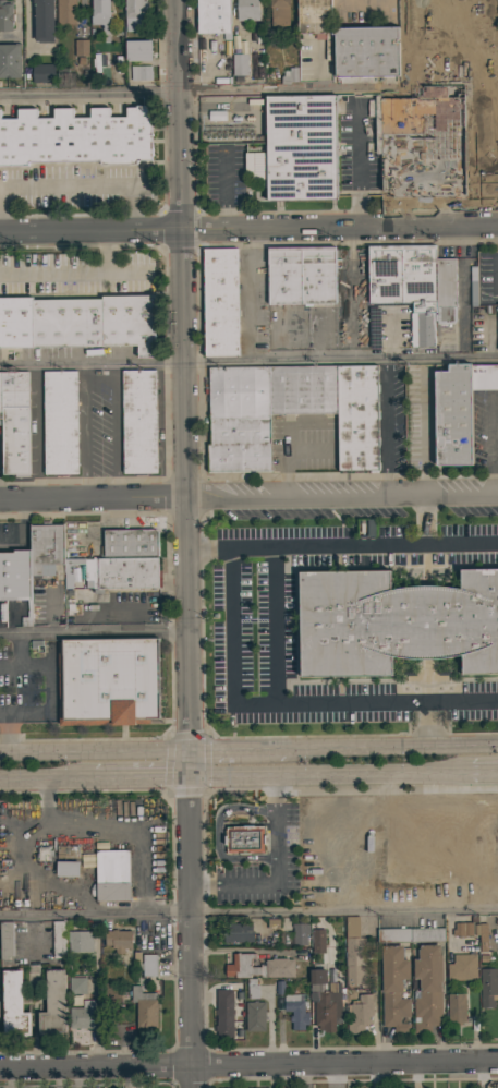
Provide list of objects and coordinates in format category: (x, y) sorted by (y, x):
building: (246, 10)
building: (65, 12)
building: (279, 12)
building: (133, 14)
building: (5, 15)
building: (100, 15)
building: (214, 16)
building: (315, 20)
building: (44, 21)
building: (412, 22)
building: (81, 47)
building: (137, 50)
building: (365, 50)
building: (10, 60)
building: (239, 64)
building: (139, 72)
building: (42, 73)
building: (289, 75)
building: (64, 77)
road: (248, 90)
road: (179, 114)
building: (76, 136)
building: (481, 143)
building: (301, 147)
road: (356, 157)
road: (65, 183)
road: (340, 227)
road: (90, 230)
road: (74, 271)
building: (284, 275)
building: (318, 275)
building: (405, 283)
building: (473, 286)
building: (447, 287)
road: (246, 294)
building: (220, 302)
building: (78, 323)
building: (497, 327)
building: (371, 330)
road: (248, 361)
building: (484, 376)
building: (301, 391)
building: (452, 413)
building: (356, 418)
building: (239, 420)
building: (138, 421)
building: (59, 422)
building: (13, 425)
road: (382, 430)
road: (36, 433)
road: (96, 433)
road: (183, 489)
road: (248, 498)
road: (21, 530)
building: (127, 544)
road: (433, 547)
building: (44, 549)
road: (301, 549)
building: (118, 573)
building: (14, 578)
building: (394, 621)
road: (93, 631)
road: (271, 631)
road: (9, 664)
building: (108, 680)
road: (51, 698)
road: (242, 711)
road: (438, 711)
road: (3, 713)
road: (390, 746)
road: (236, 749)
road: (94, 751)
road: (482, 776)
road: (327, 777)
road: (139, 779)
road: (45, 782)
road: (47, 803)
road: (65, 825)
road: (215, 832)
building: (244, 839)
building: (66, 854)
building: (66, 870)
road: (277, 874)
building: (111, 877)
road: (248, 911)
road: (187, 918)
building: (464, 928)
building: (238, 932)
building: (481, 932)
building: (300, 933)
building: (410, 934)
building: (59, 938)
building: (7, 940)
building: (82, 940)
building: (119, 940)
building: (317, 941)
road: (239, 950)
building: (354, 952)
building: (146, 963)
building: (260, 967)
building: (462, 967)
building: (76, 986)
building: (488, 987)
building: (393, 989)
building: (427, 989)
building: (325, 1000)
building: (13, 1004)
building: (53, 1004)
building: (144, 1007)
building: (456, 1007)
building: (295, 1011)
building: (223, 1013)
building: (360, 1013)
building: (83, 1015)
building: (255, 1016)
road: (248, 1065)
road: (277, 1076)
road: (60, 1078)

